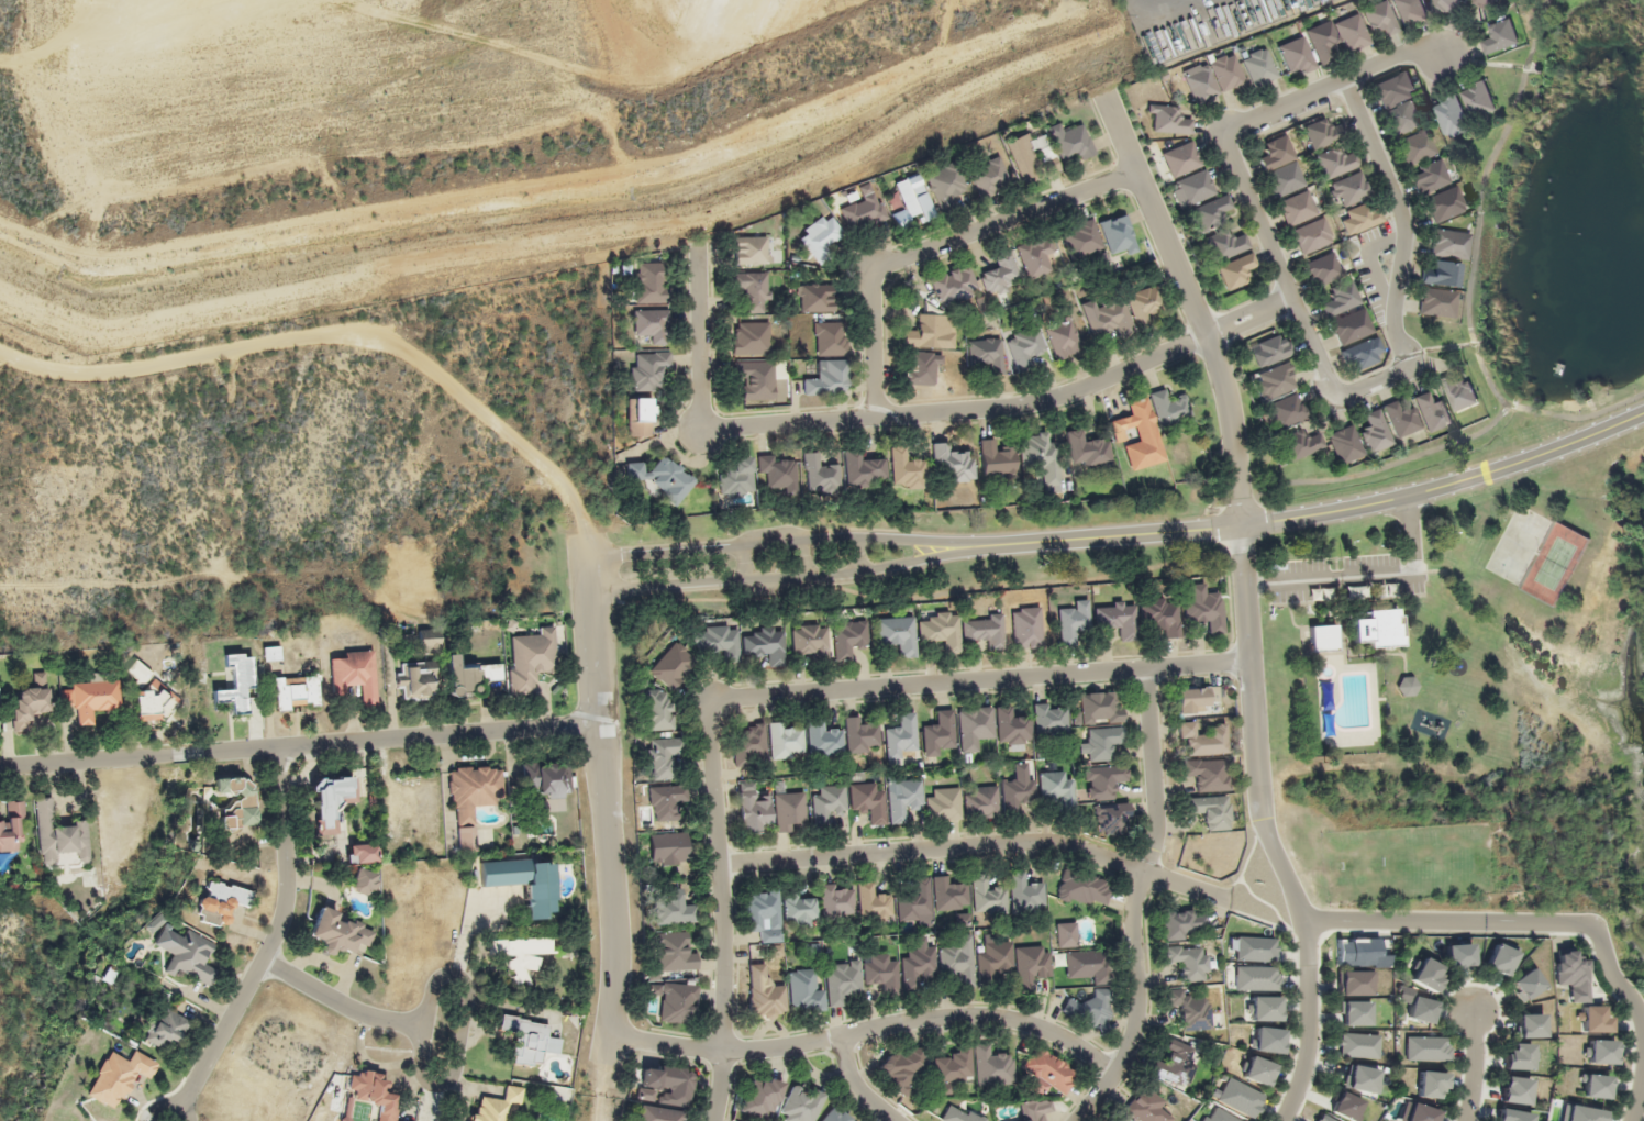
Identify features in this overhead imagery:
building: (1485, 3)
building: (1446, 5)
building: (1410, 11)
building: (1380, 18)
building: (1352, 33)
building: (1501, 36)
building: (1322, 42)
building: (1296, 54)
building: (1259, 67)
road: (1403, 71)
building: (1213, 77)
building: (1479, 100)
building: (1399, 103)
road: (1297, 116)
building: (1453, 116)
building: (1169, 120)
building: (1323, 133)
building: (1070, 142)
building: (1417, 147)
building: (1030, 155)
building: (1181, 158)
building: (1335, 162)
building: (1281, 167)
building: (989, 177)
building: (1432, 177)
building: (945, 185)
building: (1192, 188)
building: (1349, 189)
road: (1402, 199)
building: (912, 200)
building: (1444, 204)
building: (1297, 208)
building: (863, 210)
building: (1214, 210)
building: (1360, 218)
building: (1119, 235)
building: (1312, 235)
building: (1082, 238)
building: (1448, 244)
building: (1226, 245)
road: (946, 253)
building: (1035, 257)
building: (1324, 269)
building: (1237, 270)
building: (1444, 274)
building: (1001, 275)
building: (954, 286)
building: (815, 298)
building: (1342, 299)
building: (1437, 302)
building: (1144, 304)
building: (1108, 318)
building: (651, 325)
building: (1352, 326)
building: (930, 332)
road: (343, 336)
building: (749, 338)
building: (829, 338)
building: (1063, 338)
building: (1025, 346)
road: (1319, 347)
building: (1271, 351)
building: (986, 354)
building: (1364, 354)
road: (711, 356)
building: (922, 368)
building: (647, 369)
building: (754, 377)
building: (825, 378)
building: (1275, 381)
building: (1459, 391)
building: (1168, 408)
building: (1287, 411)
building: (1432, 411)
building: (638, 417)
road: (1018, 419)
building: (1401, 419)
building: (1376, 432)
building: (1137, 434)
building: (1301, 444)
building: (1346, 444)
building: (1087, 449)
building: (1041, 456)
building: (997, 460)
building: (952, 464)
building: (864, 470)
building: (906, 470)
building: (778, 471)
building: (820, 475)
building: (736, 477)
building: (664, 478)
road: (1446, 482)
road: (1241, 507)
road: (1101, 535)
road: (775, 544)
park: (1518, 545)
park: (1556, 563)
road: (778, 580)
building: (1385, 590)
building: (1315, 593)
building: (1203, 609)
building: (1160, 615)
building: (1117, 619)
building: (1073, 621)
building: (1026, 628)
building: (1378, 628)
building: (941, 630)
building: (985, 630)
building: (896, 634)
building: (848, 639)
building: (1323, 639)
building: (809, 640)
building: (429, 641)
building: (717, 641)
building: (765, 644)
building: (270, 653)
building: (531, 658)
building: (671, 665)
building: (138, 672)
building: (490, 672)
building: (355, 675)
building: (462, 678)
building: (416, 679)
road: (980, 680)
building: (237, 681)
building: (1407, 686)
building: (297, 692)
building: (91, 698)
building: (1191, 700)
building: (30, 701)
building: (154, 704)
building: (1100, 708)
building: (657, 711)
building: (1051, 719)
building: (1011, 726)
building: (974, 728)
building: (937, 733)
road: (440, 735)
building: (900, 735)
building: (860, 736)
building: (1203, 739)
building: (823, 740)
building: (785, 741)
building: (1101, 743)
building: (749, 744)
building: (664, 756)
road: (140, 757)
building: (1208, 774)
building: (548, 778)
building: (1102, 781)
building: (1017, 788)
building: (1056, 788)
building: (473, 799)
building: (903, 799)
building: (237, 801)
building: (330, 801)
building: (867, 801)
building: (666, 802)
building: (981, 802)
building: (827, 803)
building: (943, 804)
road: (604, 810)
building: (754, 810)
building: (789, 811)
building: (1211, 811)
building: (1111, 818)
building: (11, 825)
building: (57, 835)
road: (977, 847)
building: (669, 848)
building: (364, 853)
road: (720, 874)
building: (365, 881)
building: (524, 881)
building: (1082, 888)
building: (1025, 892)
building: (948, 894)
building: (987, 896)
building: (836, 900)
building: (221, 902)
building: (915, 902)
road: (1136, 902)
building: (873, 903)
building: (674, 908)
building: (798, 909)
building: (763, 915)
building: (1184, 922)
road: (1404, 922)
building: (338, 932)
building: (1066, 934)
road: (270, 944)
building: (1256, 948)
building: (1358, 951)
building: (675, 952)
building: (189, 955)
building: (520, 955)
building: (1458, 956)
building: (993, 959)
building: (1499, 959)
building: (958, 961)
building: (1188, 962)
building: (1030, 964)
building: (1087, 965)
building: (917, 967)
building: (880, 972)
building: (1426, 974)
building: (1570, 975)
building: (1257, 978)
building: (842, 983)
building: (1354, 983)
building: (1525, 984)
building: (803, 991)
building: (764, 995)
building: (676, 1001)
road: (341, 1003)
building: (1090, 1008)
building: (1263, 1008)
building: (1421, 1009)
building: (1189, 1010)
building: (1354, 1012)
road: (985, 1015)
building: (1595, 1019)
building: (1529, 1025)
building: (164, 1029)
road: (463, 1029)
building: (530, 1040)
building: (1269, 1040)
building: (1358, 1045)
building: (1426, 1048)
road: (725, 1050)
building: (1598, 1052)
building: (1519, 1056)
building: (1175, 1065)
road: (1475, 1065)
building: (992, 1067)
building: (901, 1068)
building: (952, 1069)
building: (1257, 1070)
building: (1048, 1073)
building: (118, 1076)
building: (1362, 1079)
building: (666, 1085)
road: (720, 1085)
building: (1431, 1085)
road: (856, 1086)
building: (1593, 1086)
building: (1514, 1090)
road: (1639, 1091)
building: (374, 1094)
building: (1240, 1097)
building: (760, 1098)
building: (497, 1105)
building: (801, 1105)
building: (1146, 1106)
building: (1346, 1107)
building: (1034, 1110)
building: (1421, 1113)
building: (1580, 1113)
building: (659, 1114)
building: (835, 1114)
building: (959, 1114)
building: (1218, 1114)
building: (1512, 1116)
building: (1324, 1118)
building: (1119, 1119)

